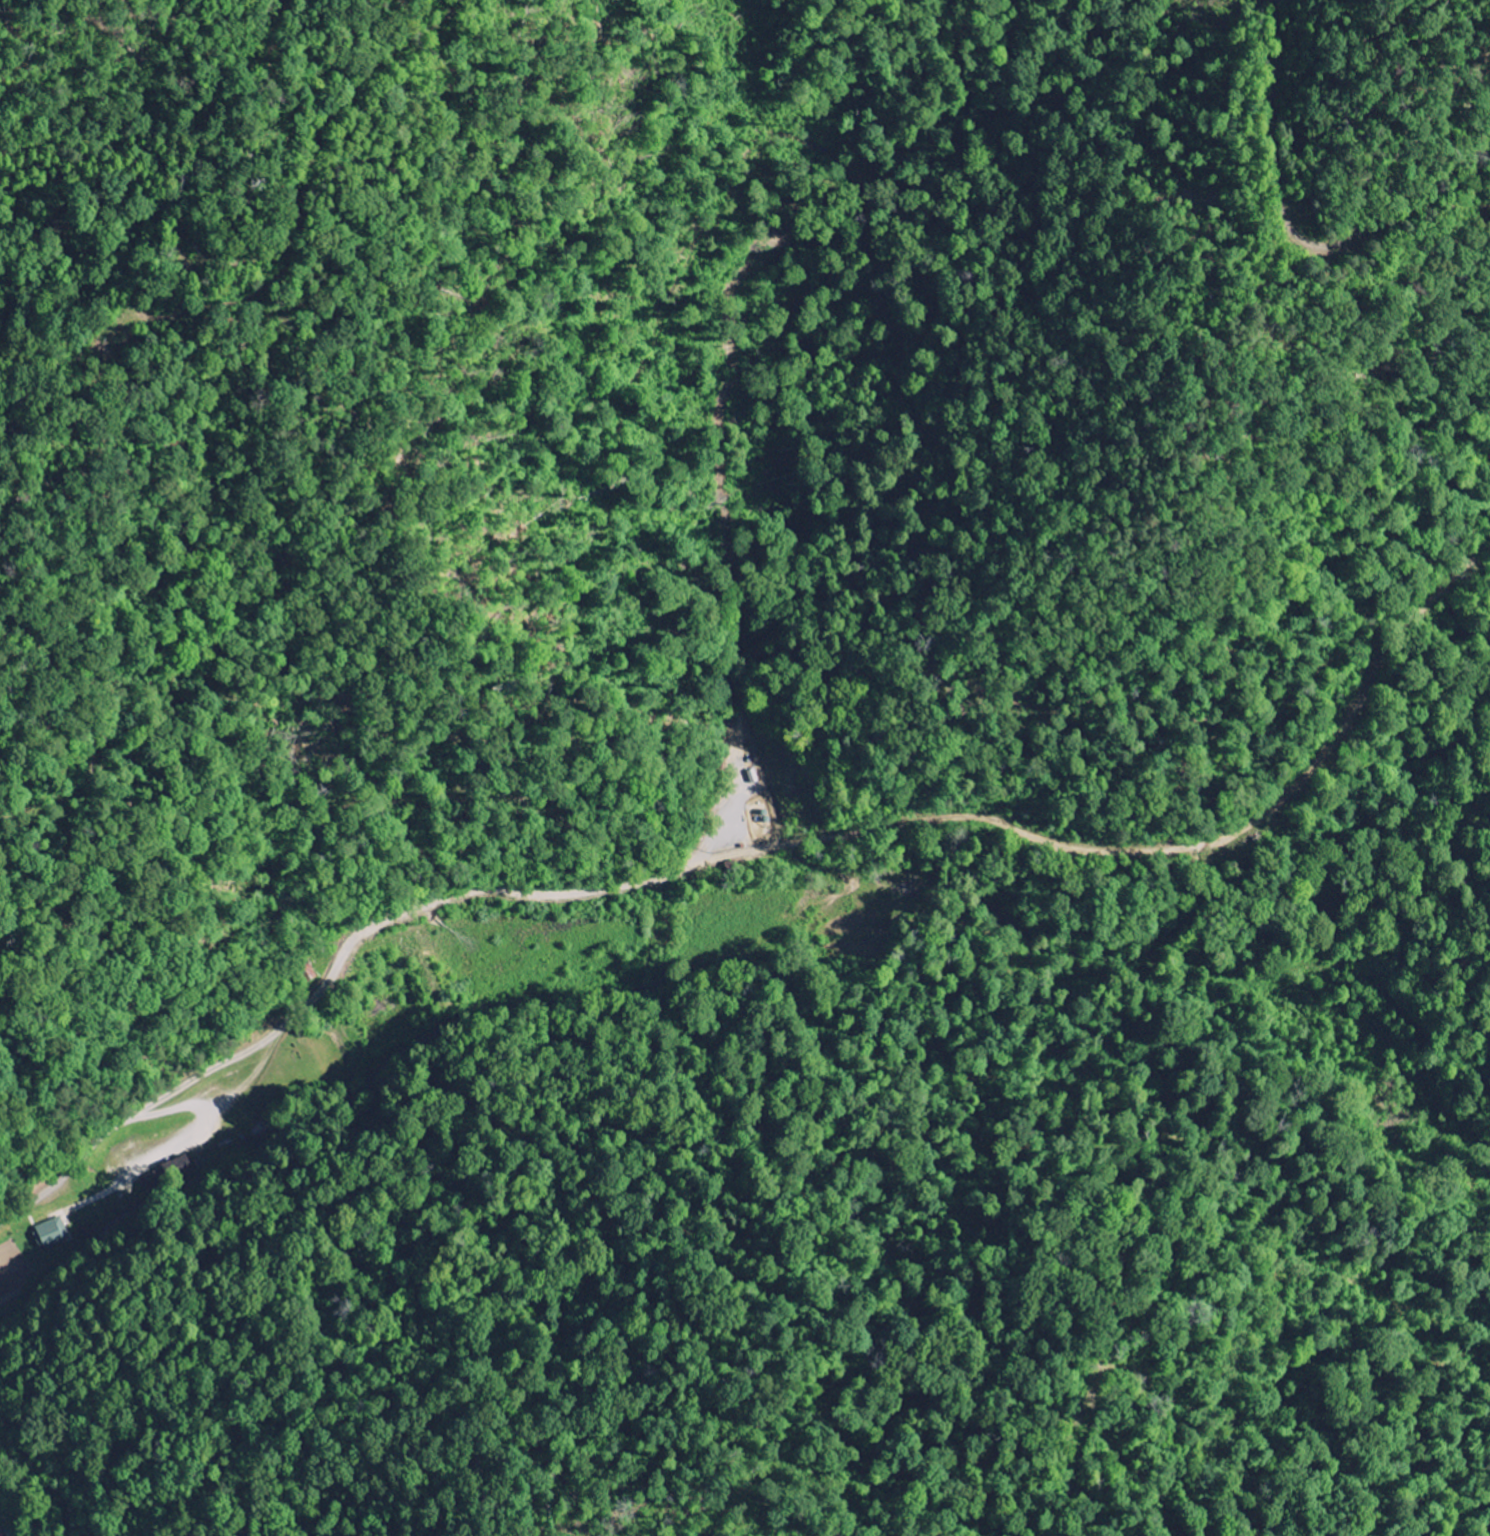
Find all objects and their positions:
road: (134, 1115)
building: (51, 1234)

